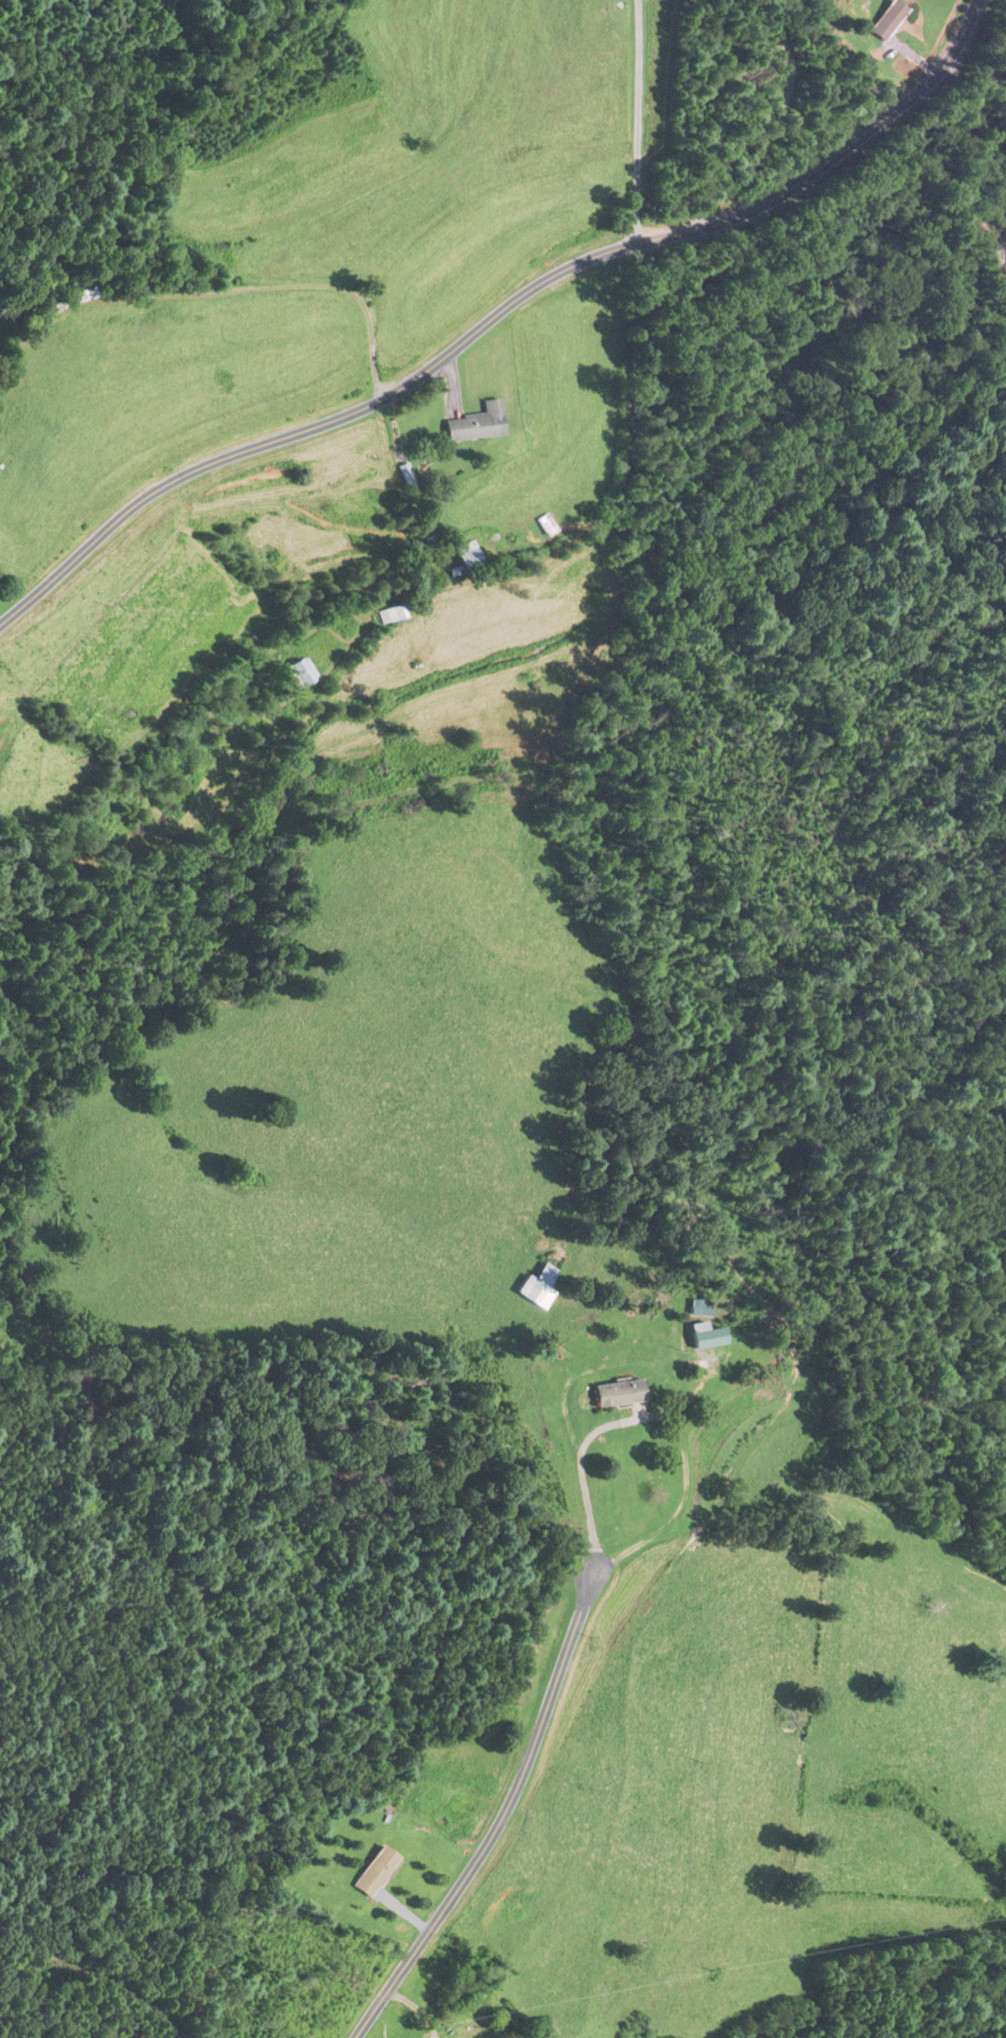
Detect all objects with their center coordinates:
building: (886, 20)
road: (636, 121)
road: (773, 123)
river: (1002, 225)
road: (496, 313)
building: (475, 424)
building: (406, 478)
building: (546, 525)
road: (542, 537)
building: (466, 557)
building: (390, 615)
building: (298, 673)
building: (538, 1286)
building: (705, 1337)
building: (618, 1394)
road: (578, 1463)
road: (503, 1810)
building: (374, 1872)
building: (574, 1900)

